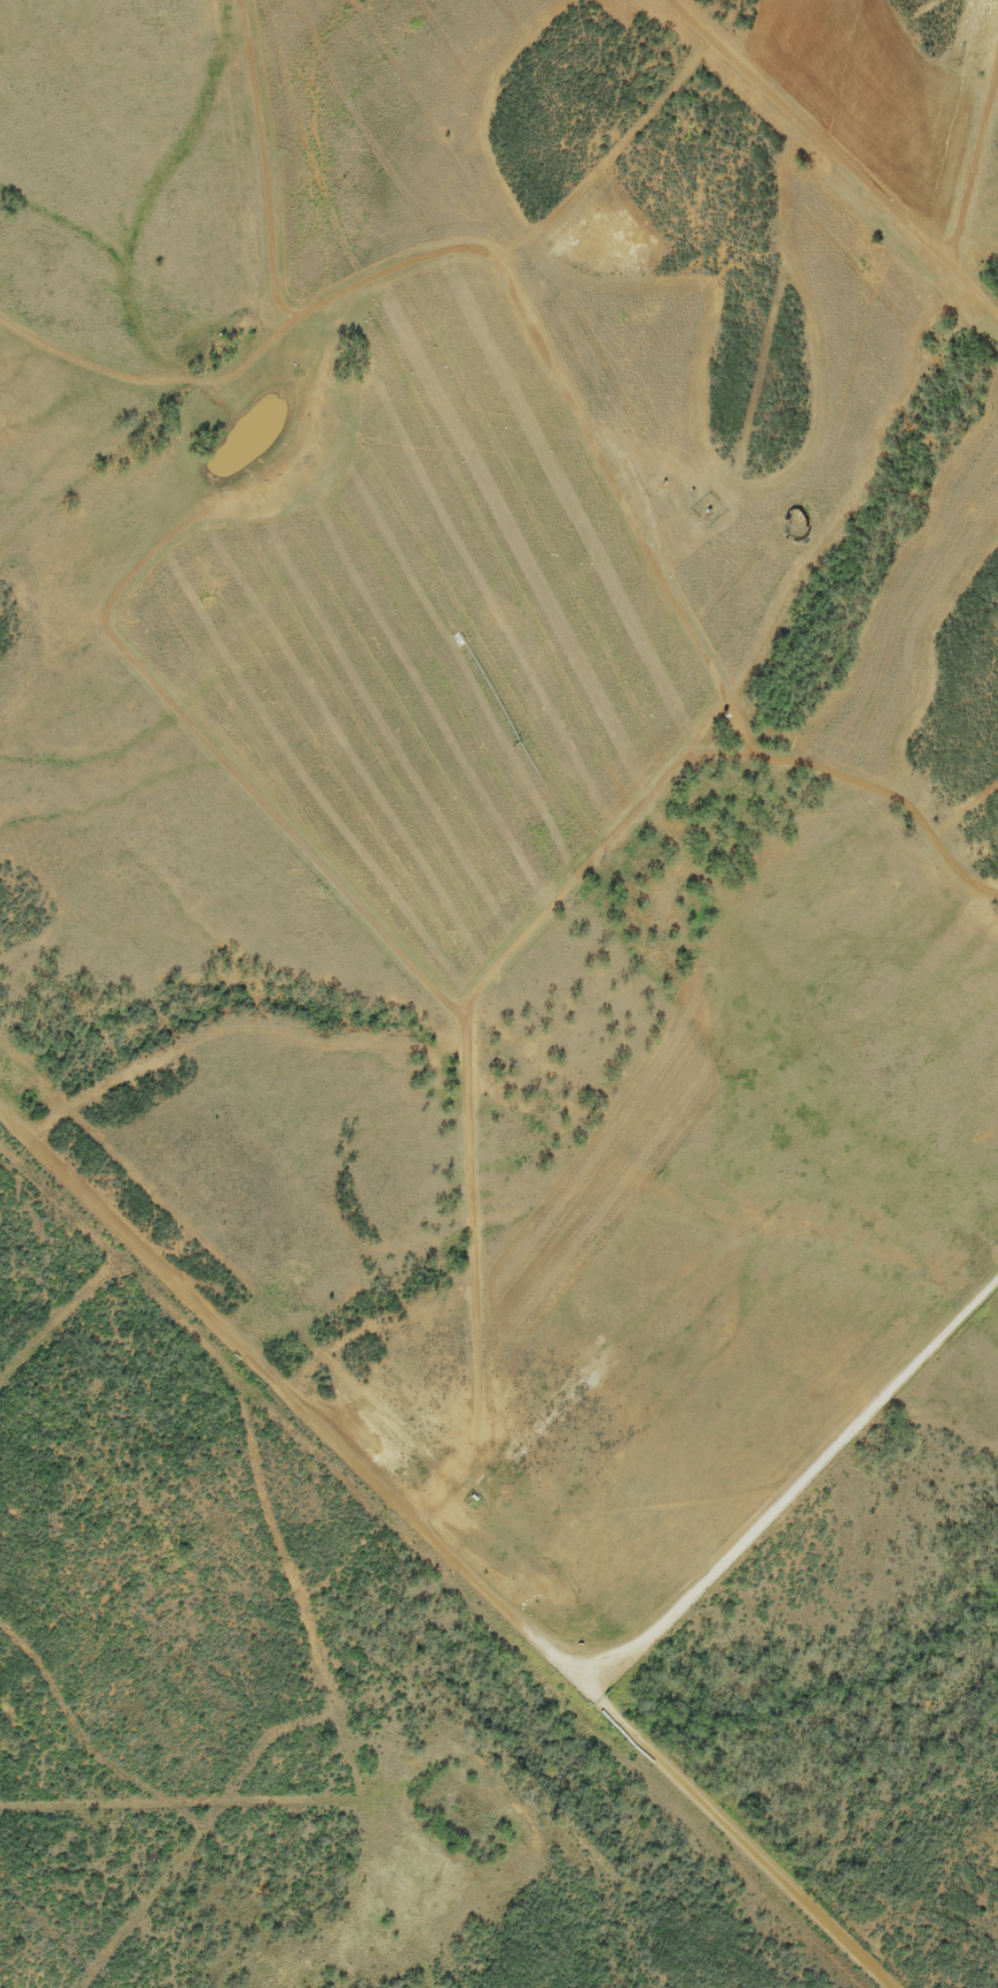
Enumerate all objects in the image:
road: (856, 129)
road: (435, 1689)

